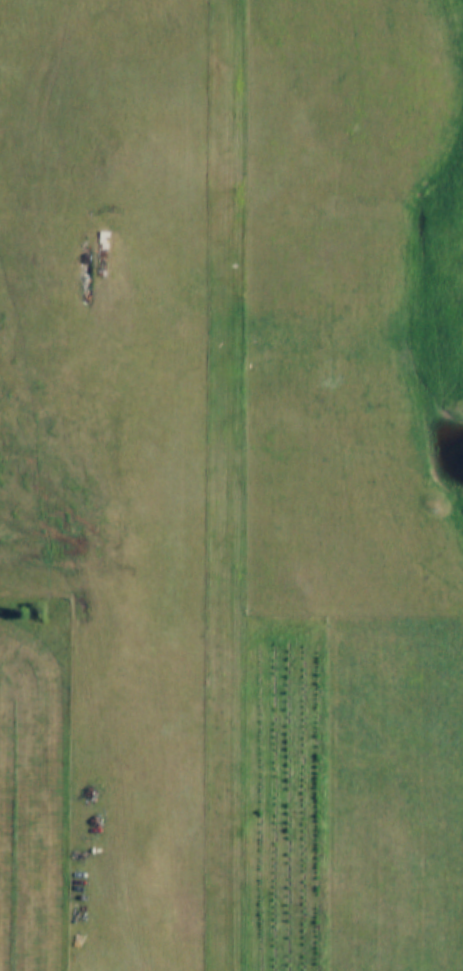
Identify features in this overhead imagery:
building: (94, 253)
road: (237, 485)

